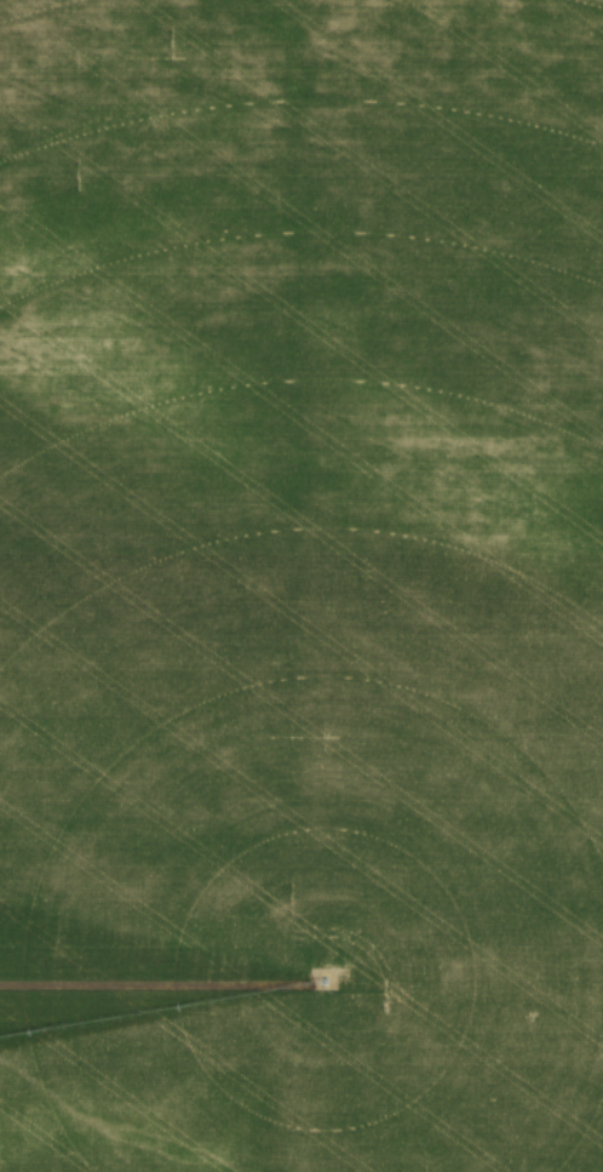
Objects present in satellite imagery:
crop: (301, 585)

